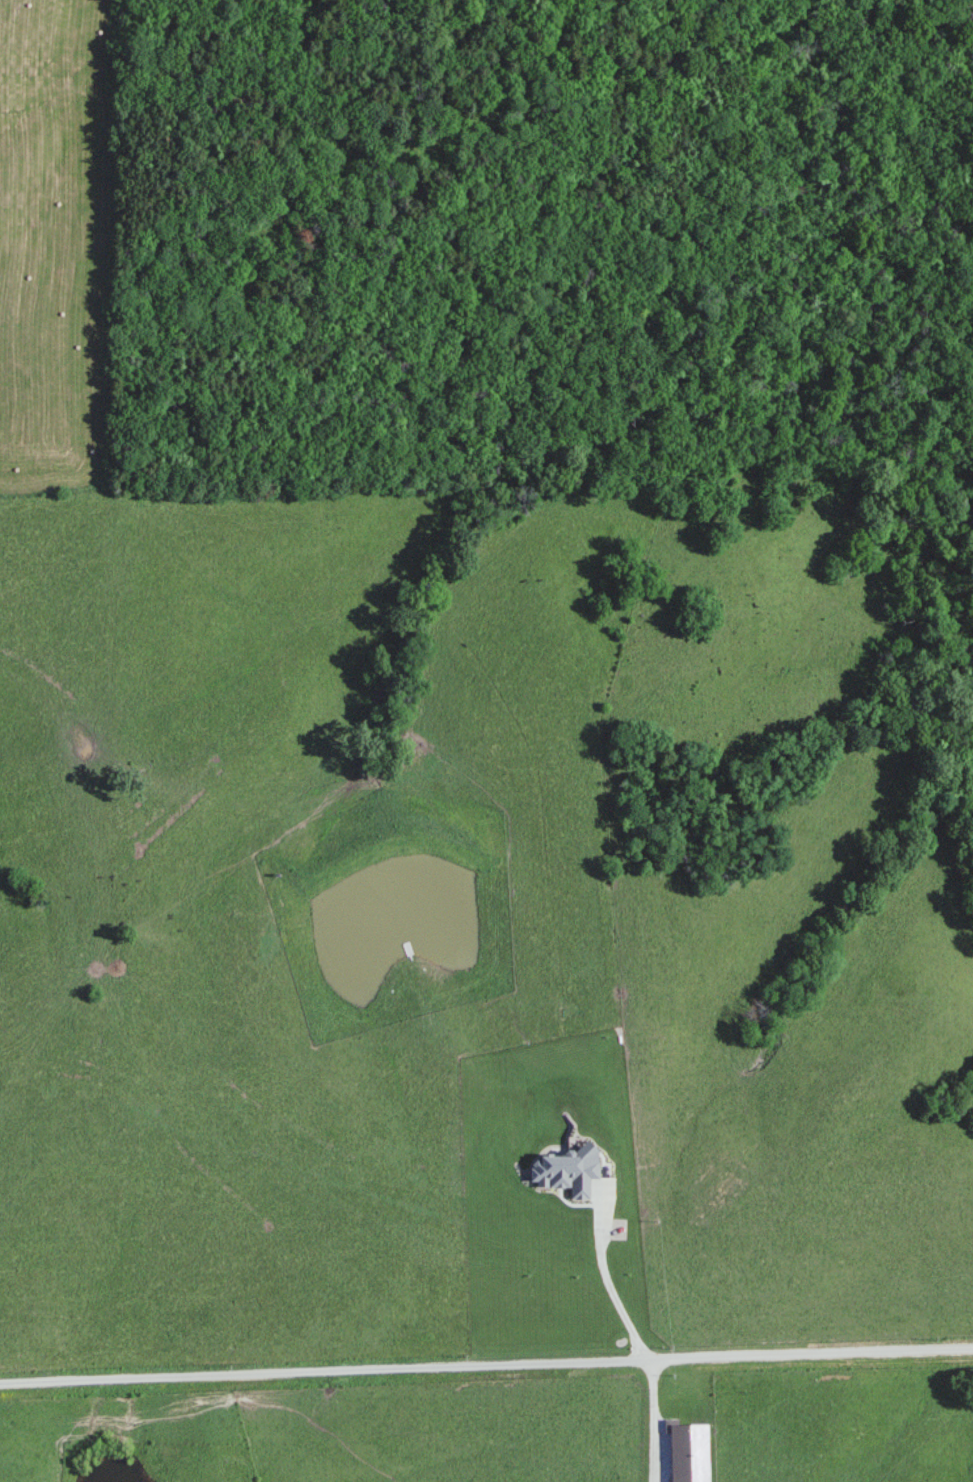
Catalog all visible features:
road: (486, 1367)

